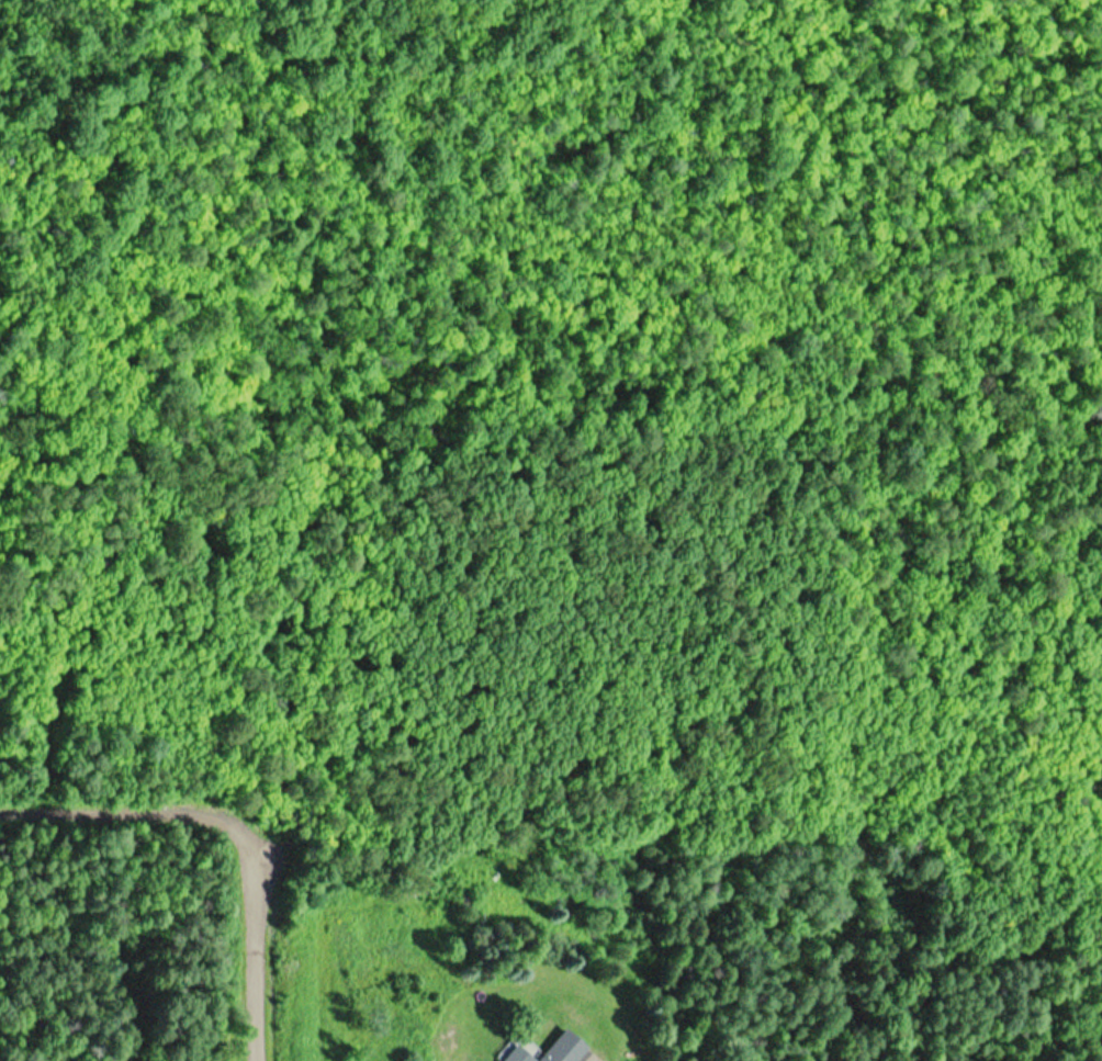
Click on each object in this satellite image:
road: (138, 810)
road: (263, 960)
building: (563, 1049)
building: (515, 1056)

